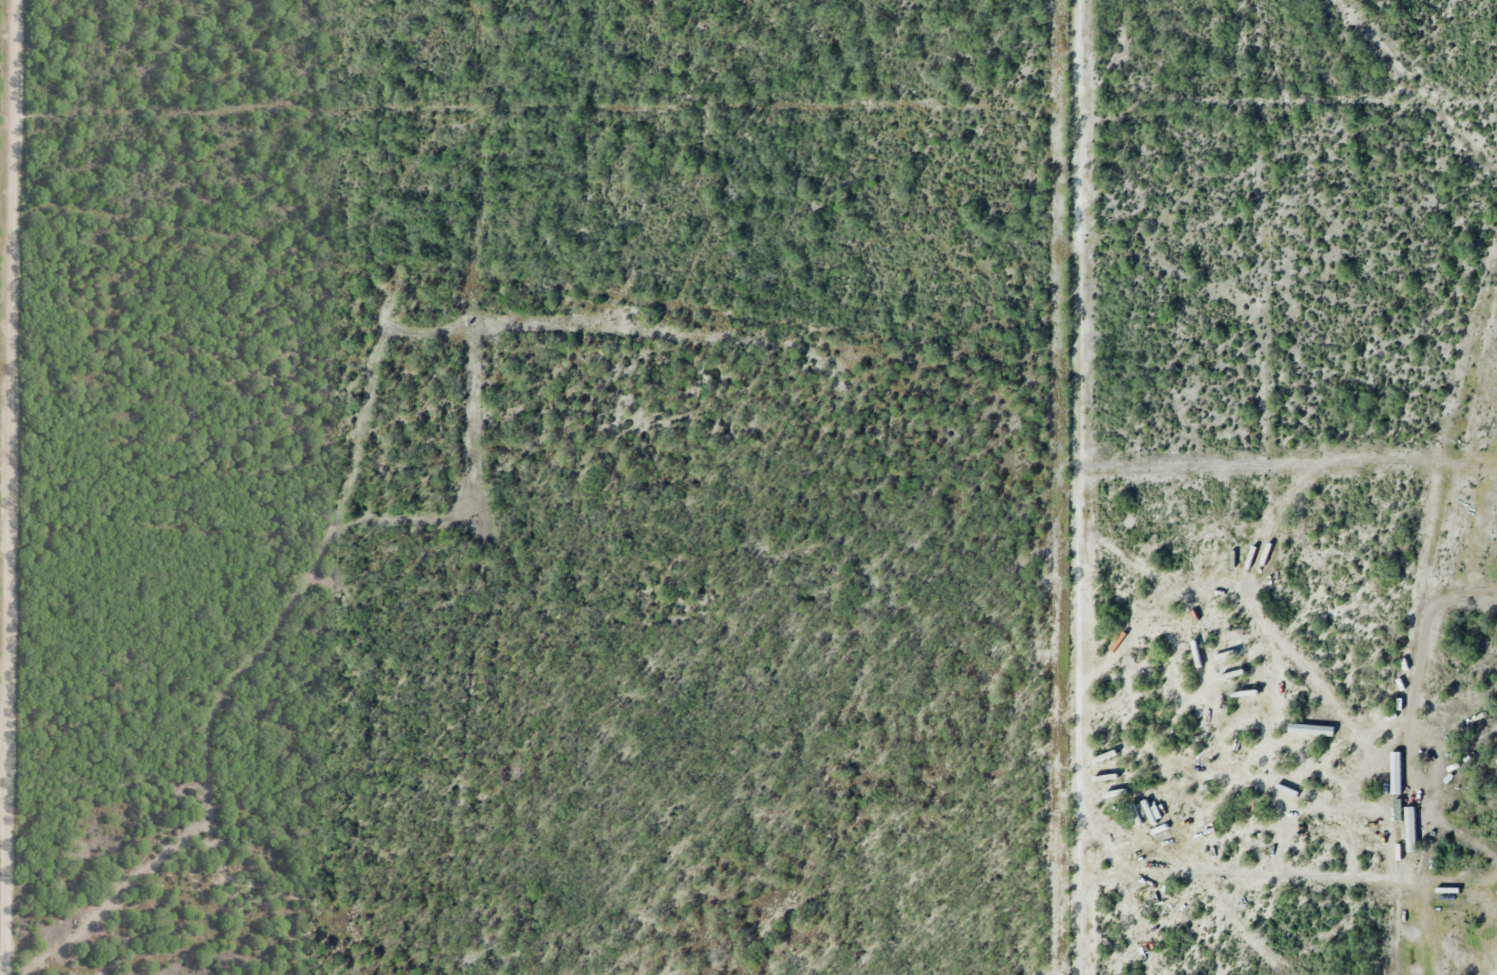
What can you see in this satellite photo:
road: (8, 487)
road: (1052, 487)

